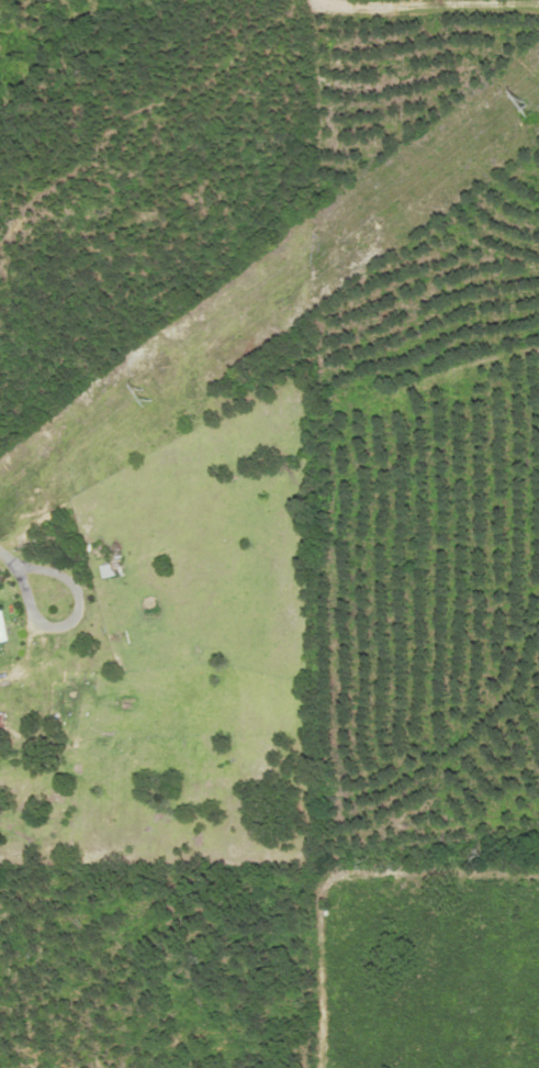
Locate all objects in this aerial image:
power tower: (537, 104)
road: (4, 554)
building: (114, 570)
road: (37, 613)
building: (3, 630)

